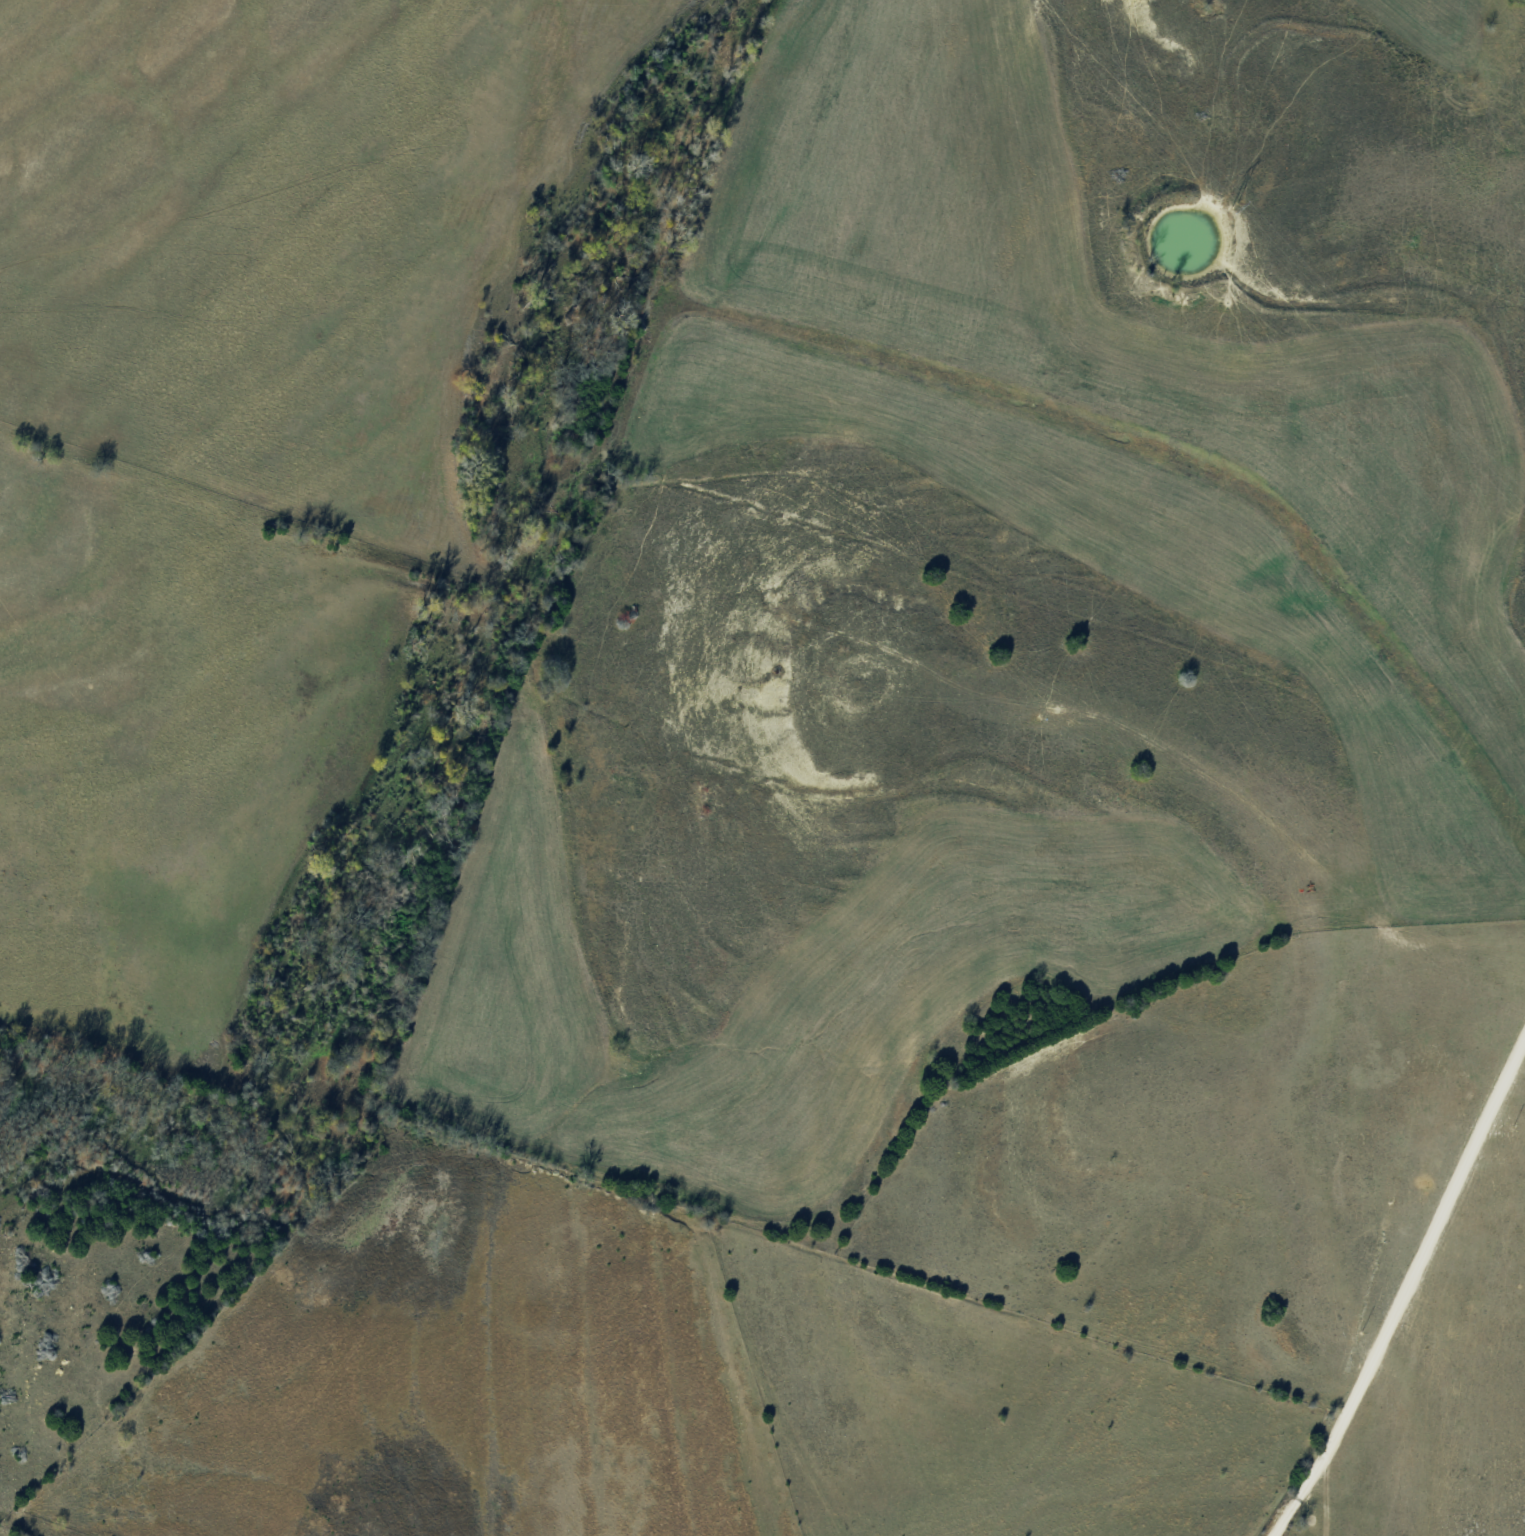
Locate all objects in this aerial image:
road: (78, 83)
power tower: (1232, 206)
road: (23, 466)
road: (1439, 1350)

